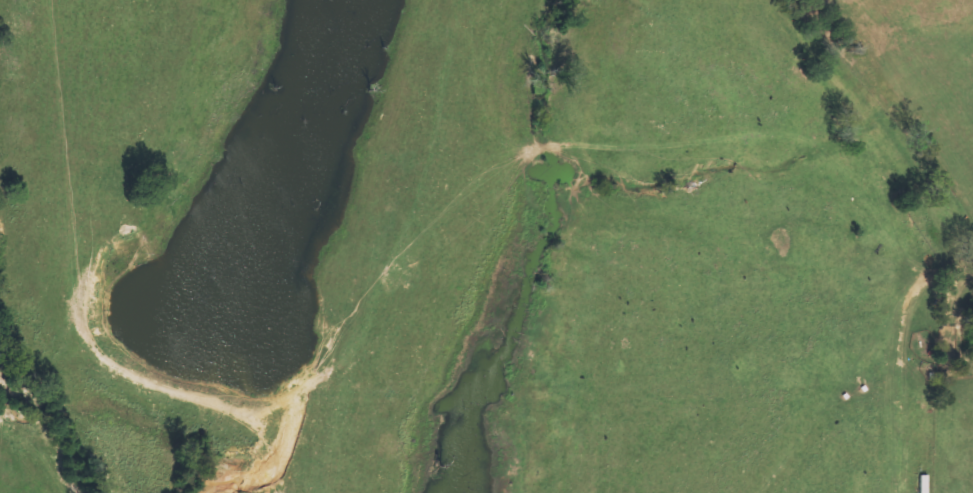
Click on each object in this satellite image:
road: (954, 274)

